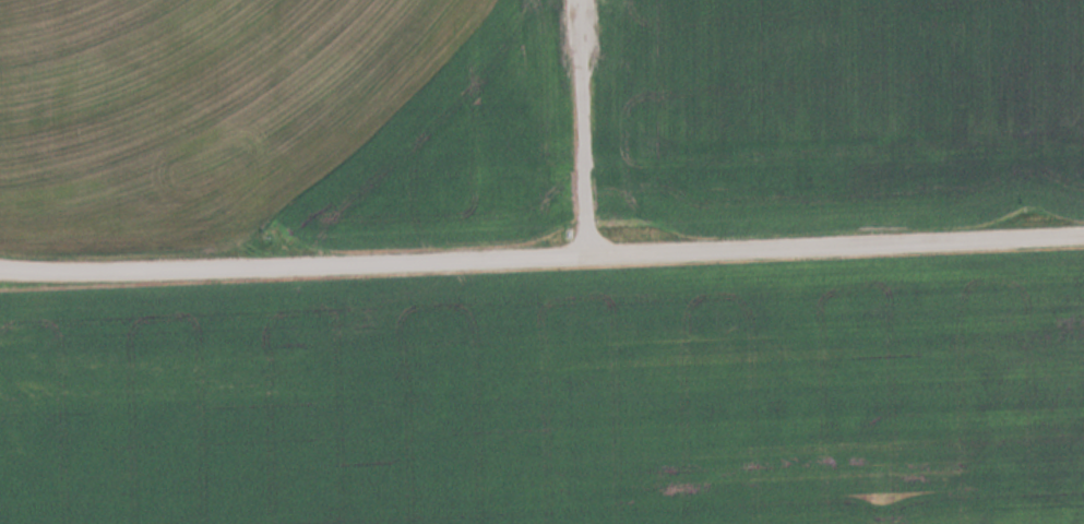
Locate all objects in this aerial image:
road: (580, 128)
road: (541, 258)

